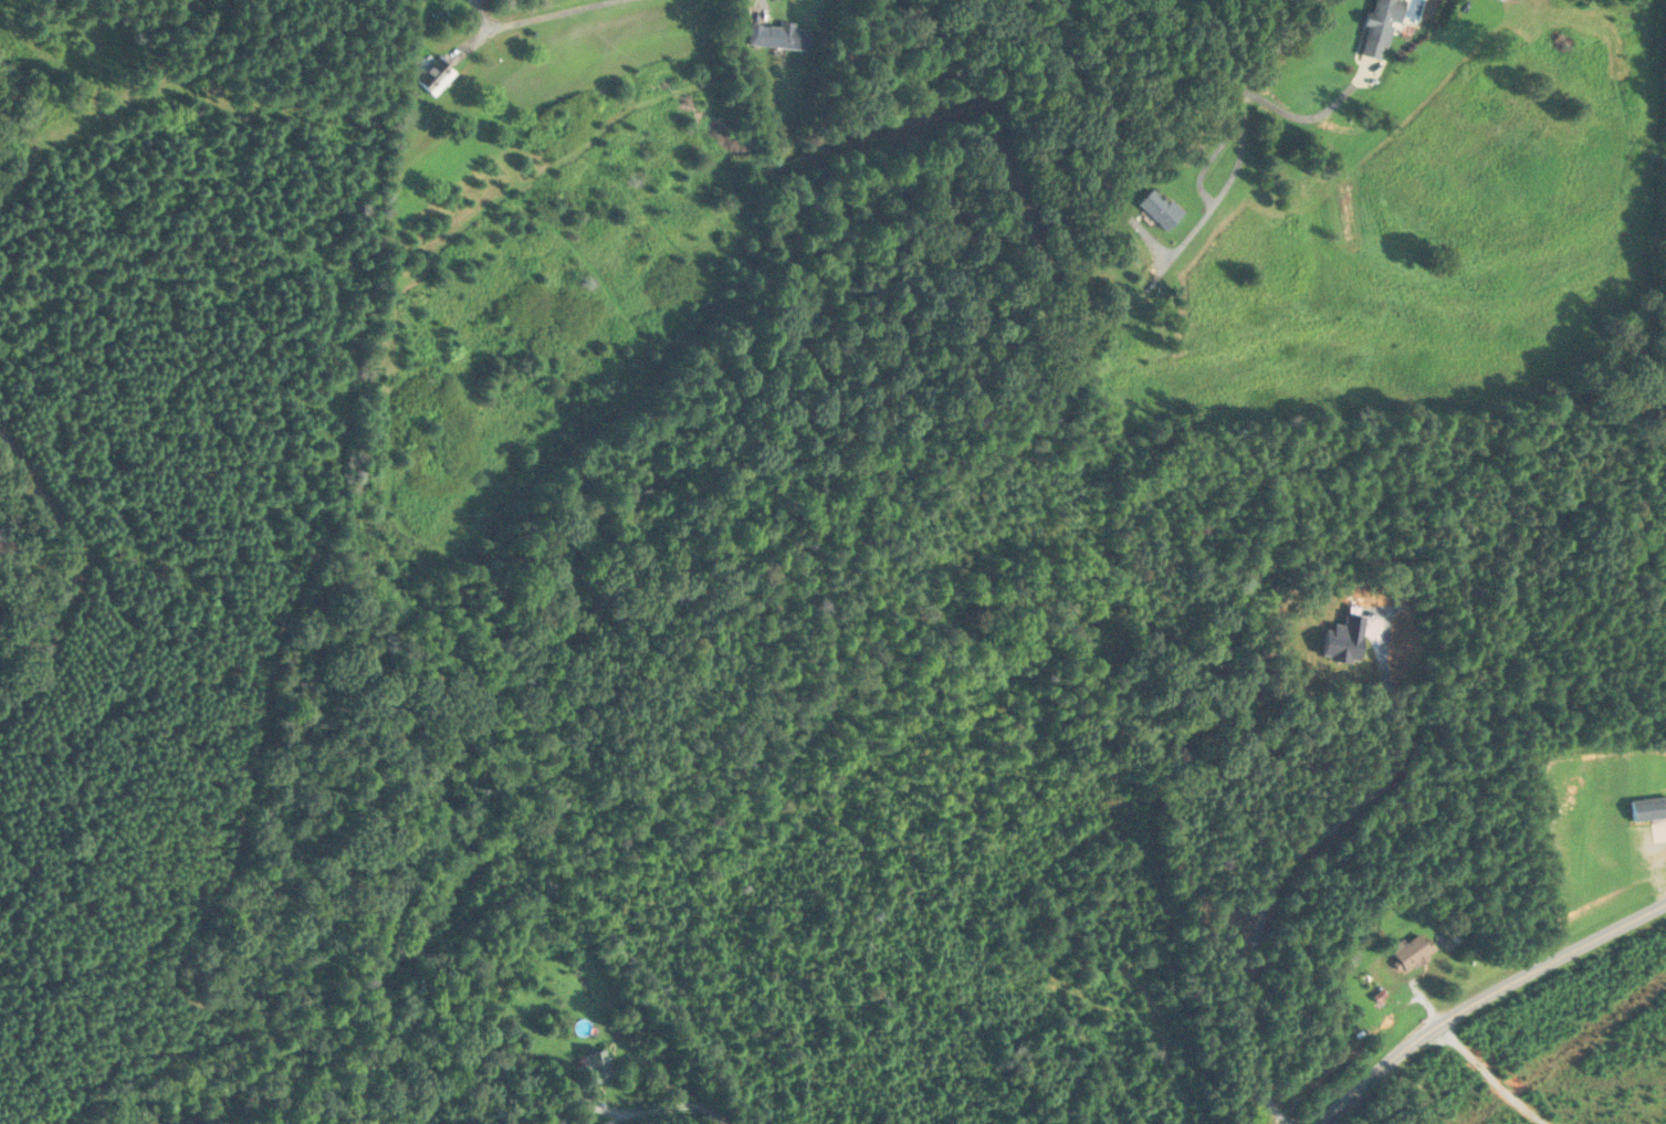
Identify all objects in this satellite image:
road: (549, 13)
building: (1380, 25)
building: (777, 35)
building: (433, 75)
road: (1260, 101)
road: (1219, 197)
building: (1160, 208)
building: (1411, 950)
road: (1482, 998)
building: (597, 1067)
road: (1490, 1074)
road: (668, 1106)
building: (1665, 1123)

